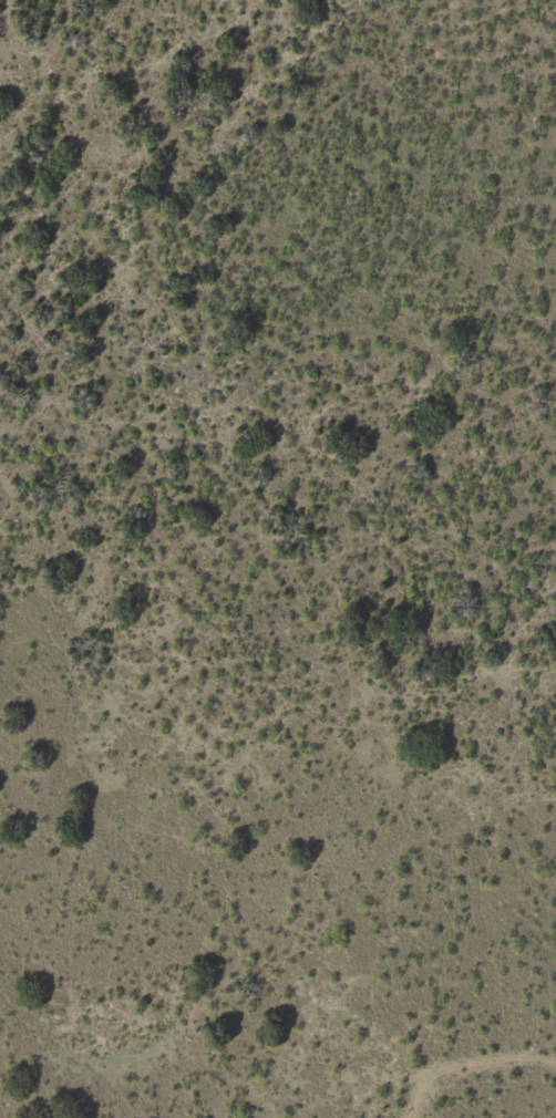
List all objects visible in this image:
road: (466, 1080)

